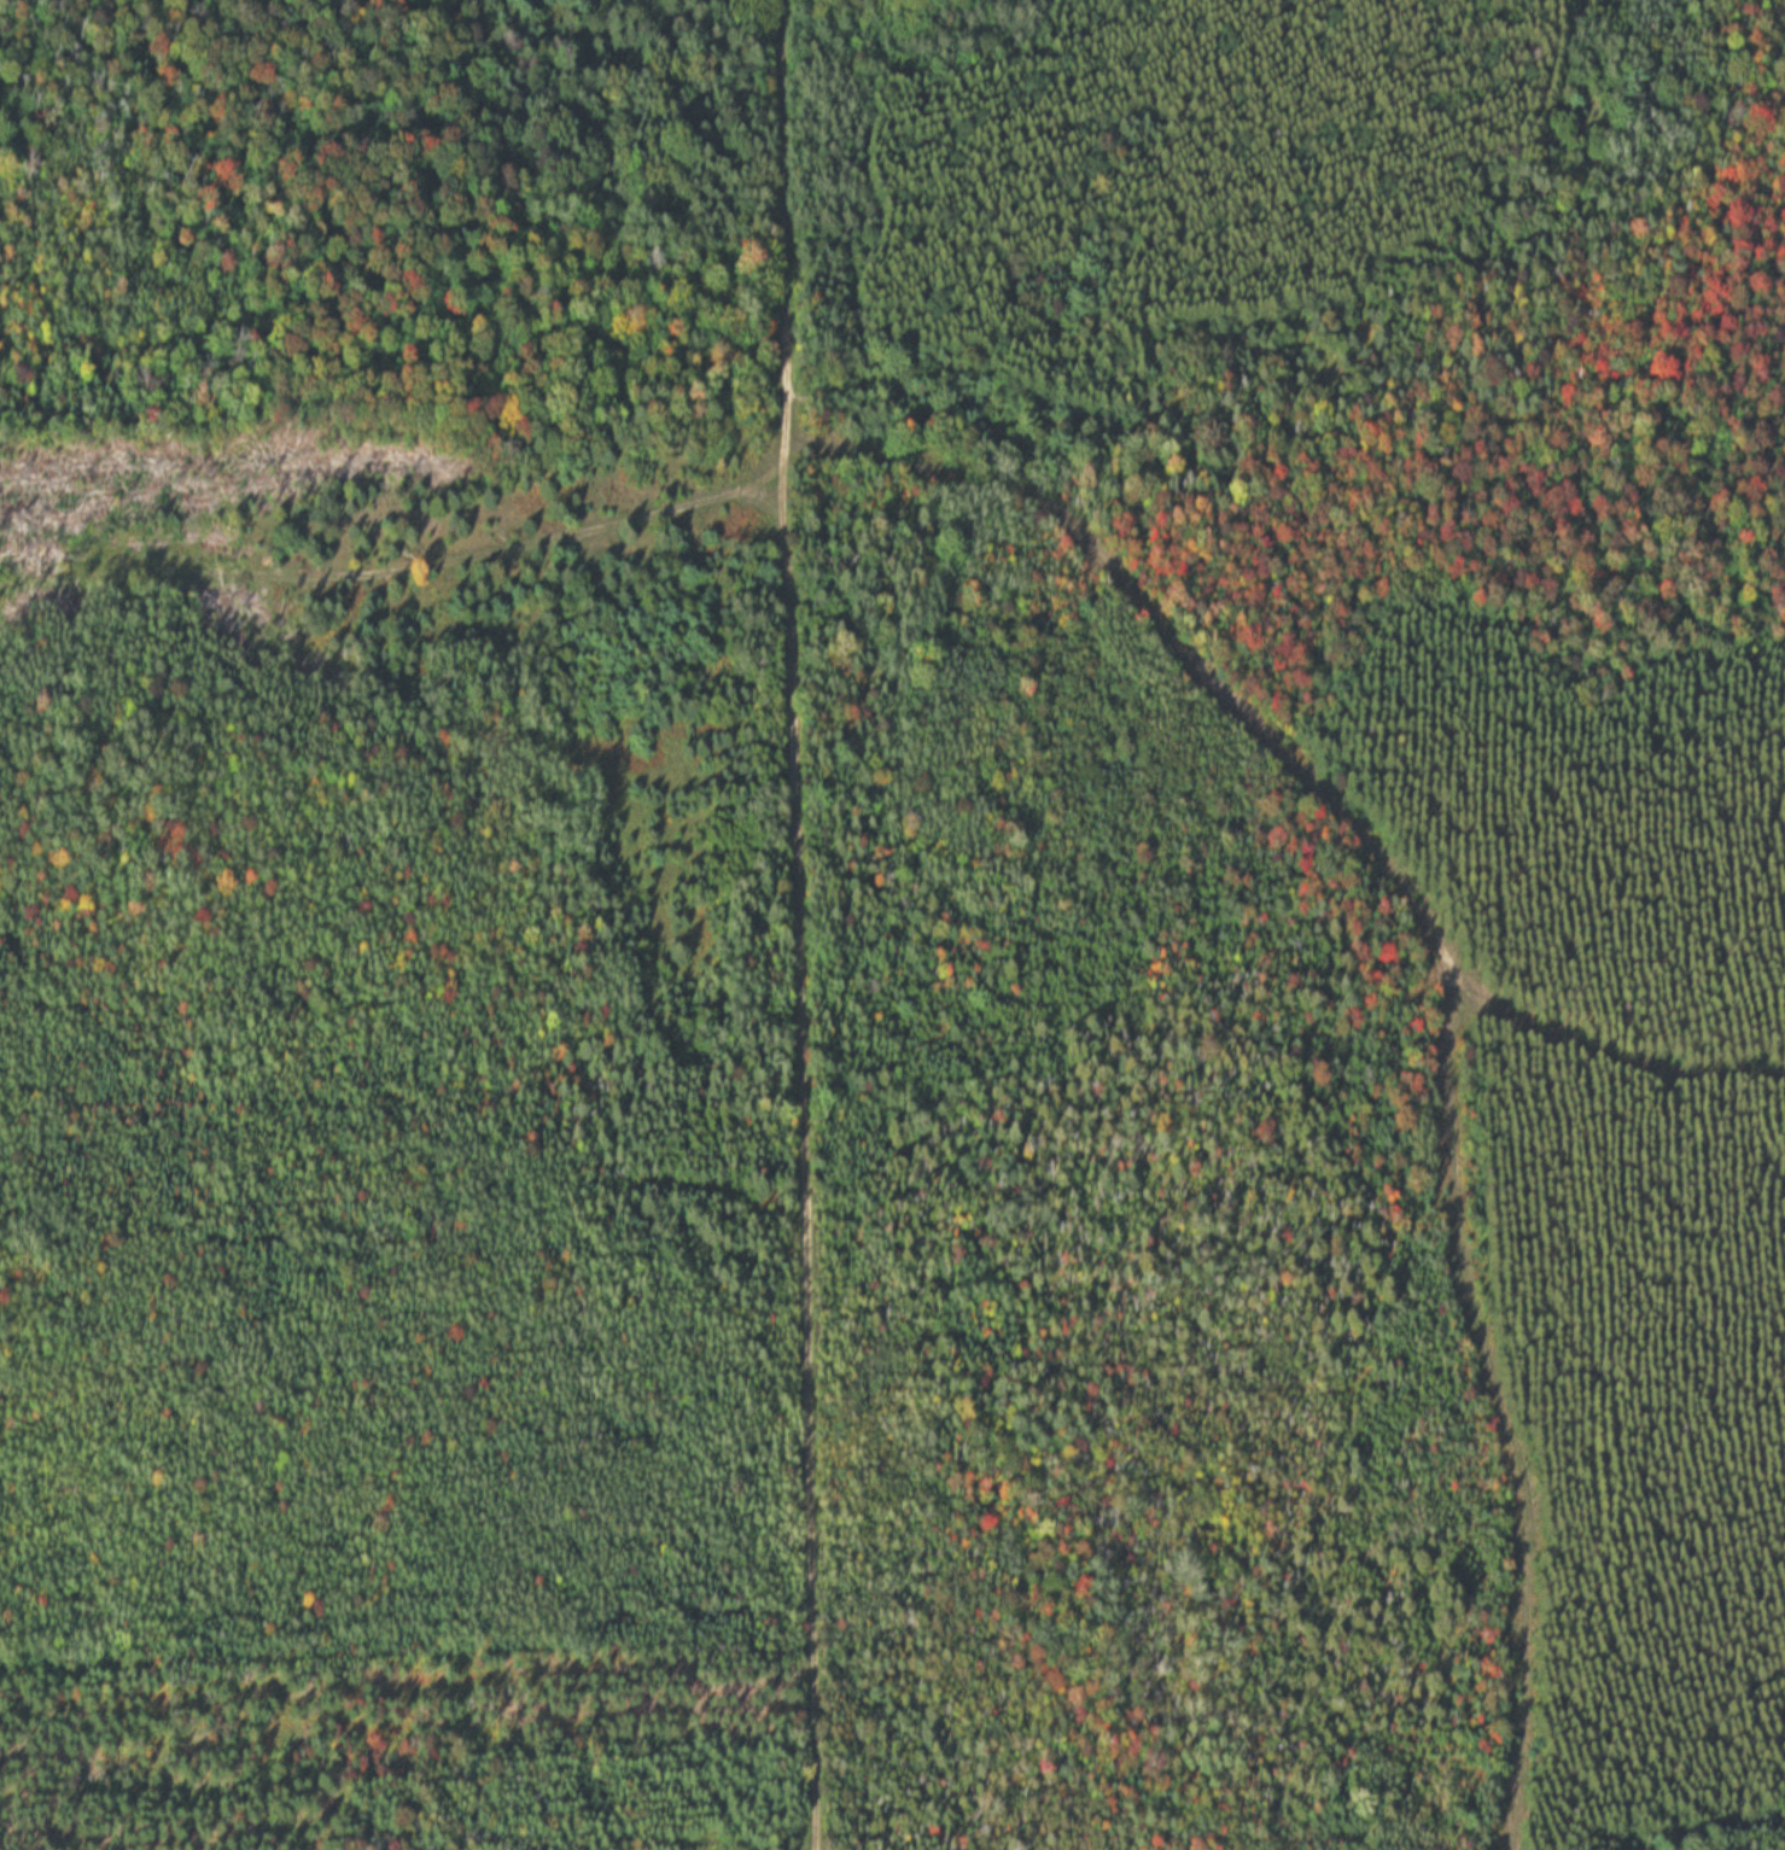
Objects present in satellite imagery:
road: (412, 561)
road: (806, 924)
road: (1442, 982)
road: (1608, 1067)

